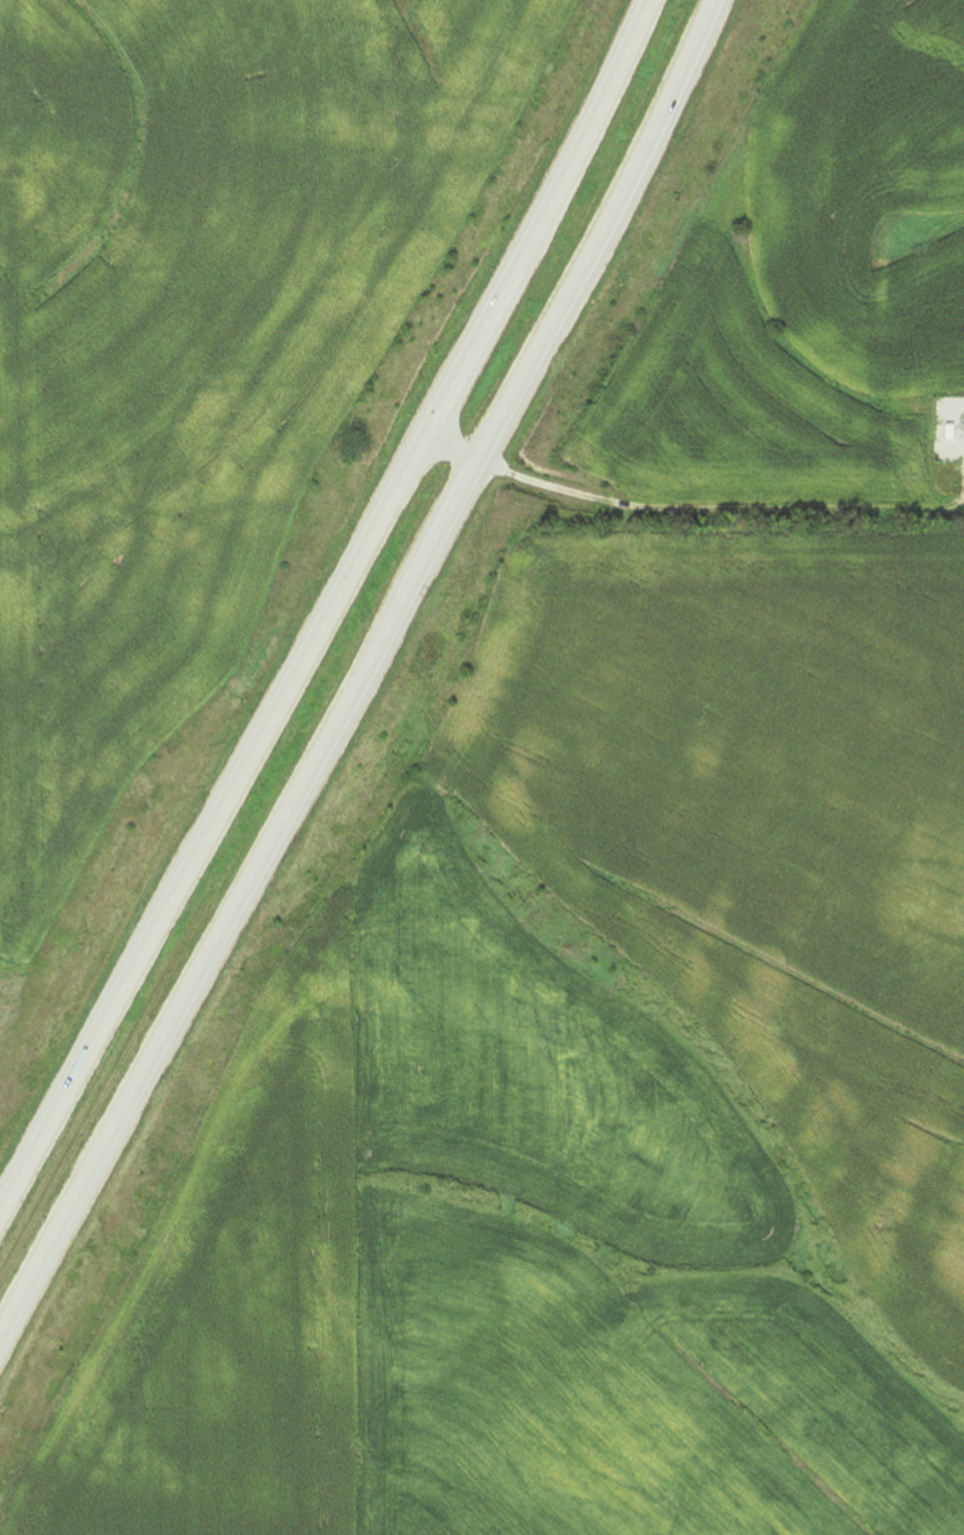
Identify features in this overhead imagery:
road: (543, 221)
road: (601, 232)
road: (510, 473)
road: (213, 825)
road: (237, 905)

